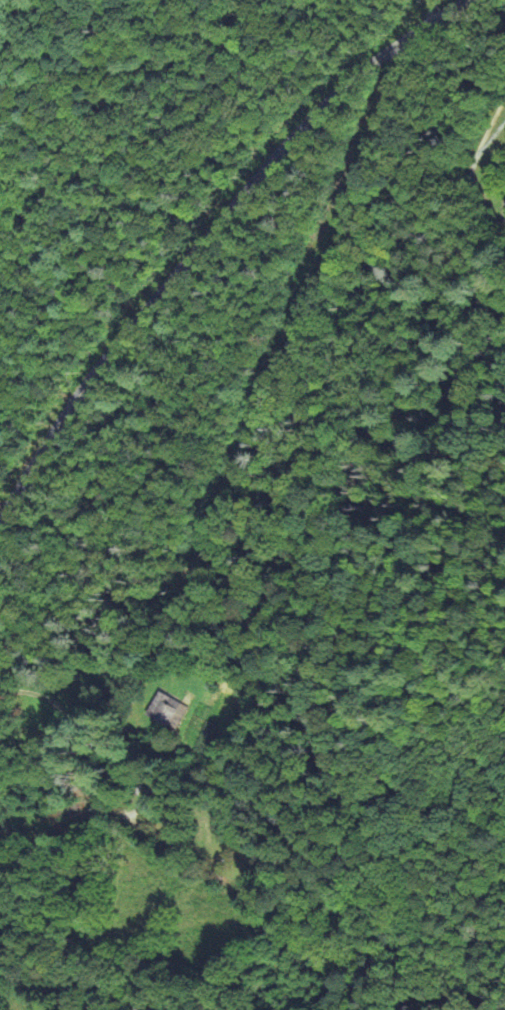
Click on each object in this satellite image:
road: (426, 11)
road: (433, 11)
road: (43, 35)
road: (207, 243)
building: (172, 712)

